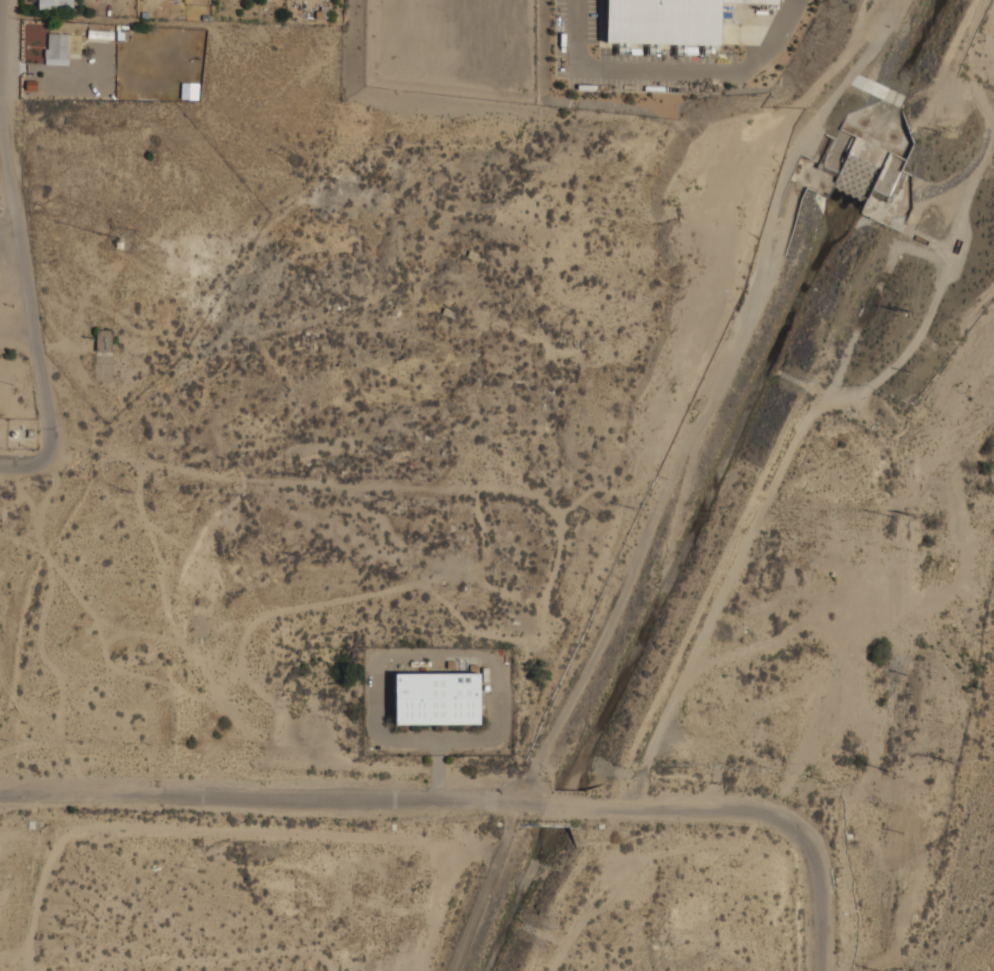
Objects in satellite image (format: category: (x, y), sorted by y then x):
building: (56, 4)
building: (667, 20)
building: (100, 34)
building: (58, 46)
road: (9, 225)
road: (17, 226)
road: (17, 326)
building: (104, 339)
road: (27, 465)
building: (438, 697)
road: (272, 797)
road: (559, 809)
road: (694, 809)
road: (820, 901)

